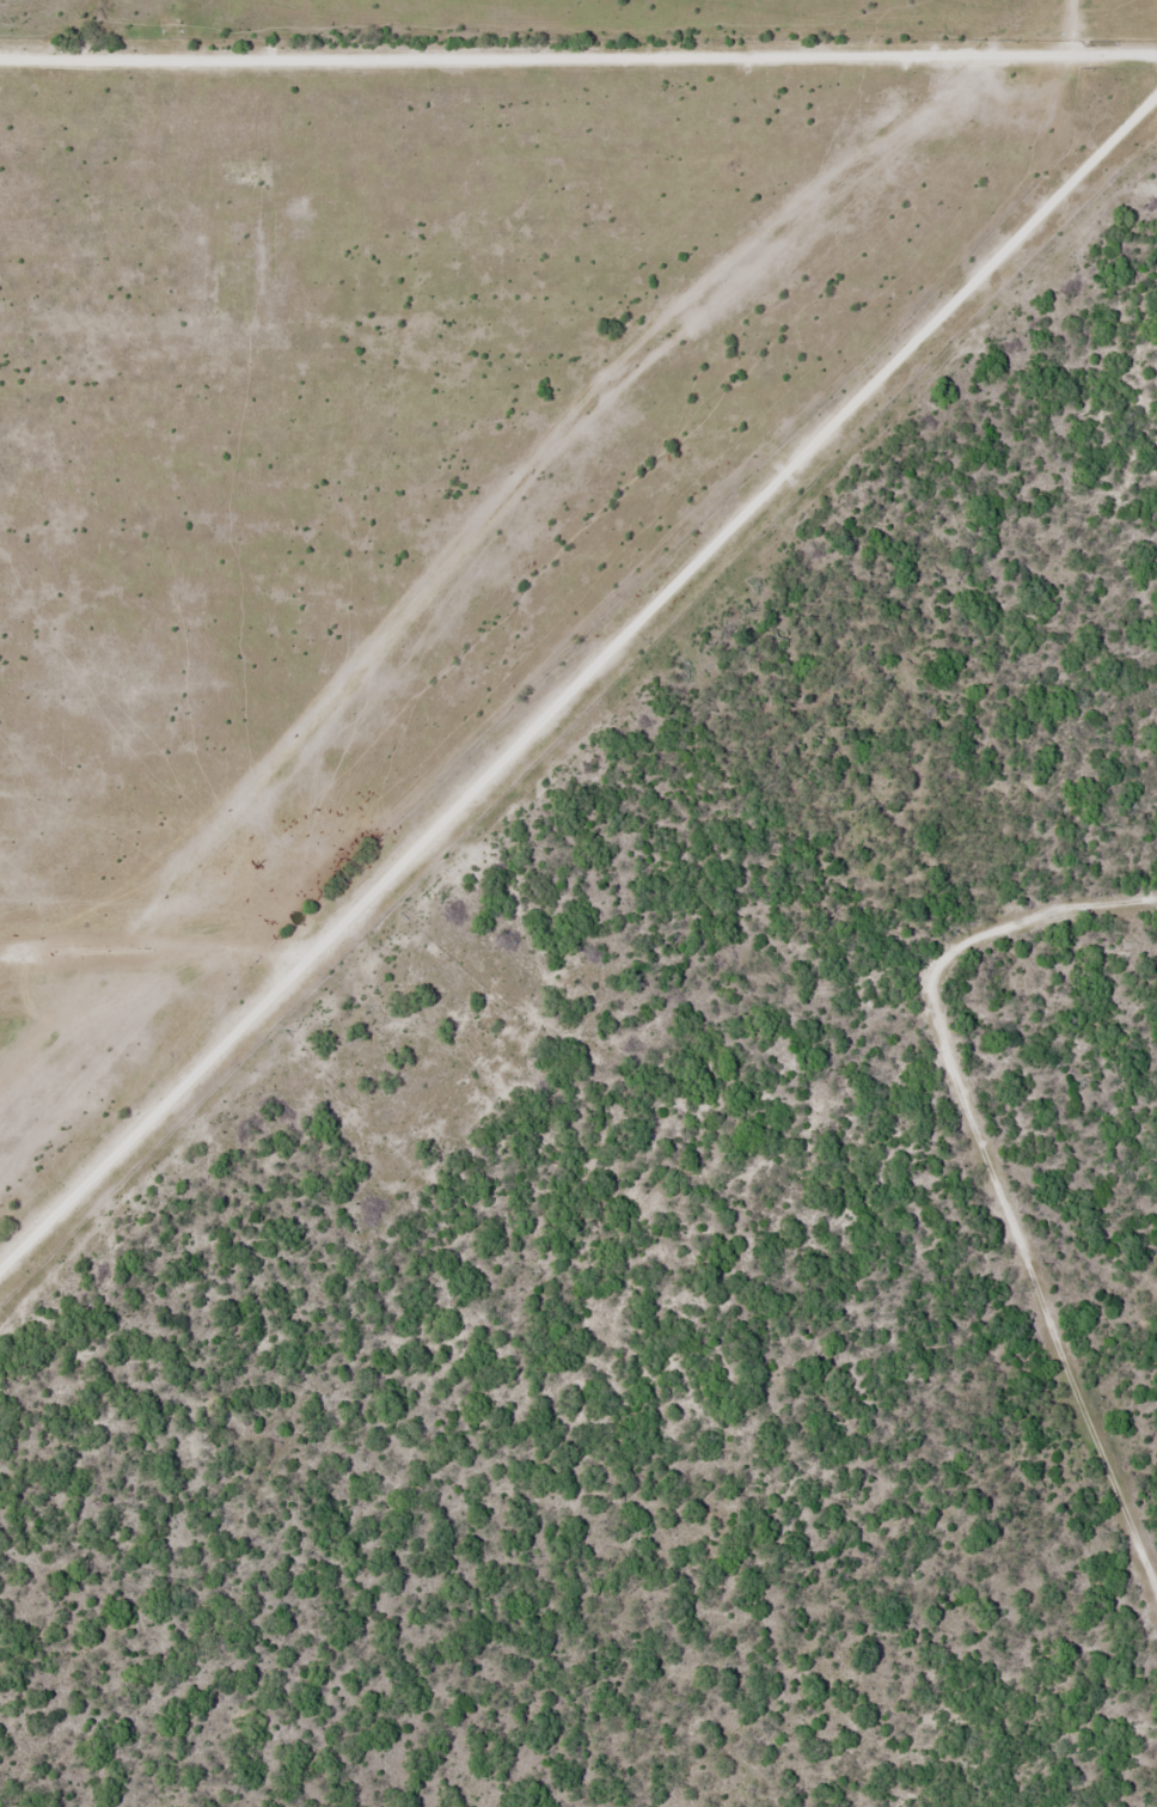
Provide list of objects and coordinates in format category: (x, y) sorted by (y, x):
road: (578, 57)
road: (874, 399)
road: (339, 936)
road: (1041, 951)
road: (163, 1119)
road: (1023, 1299)

